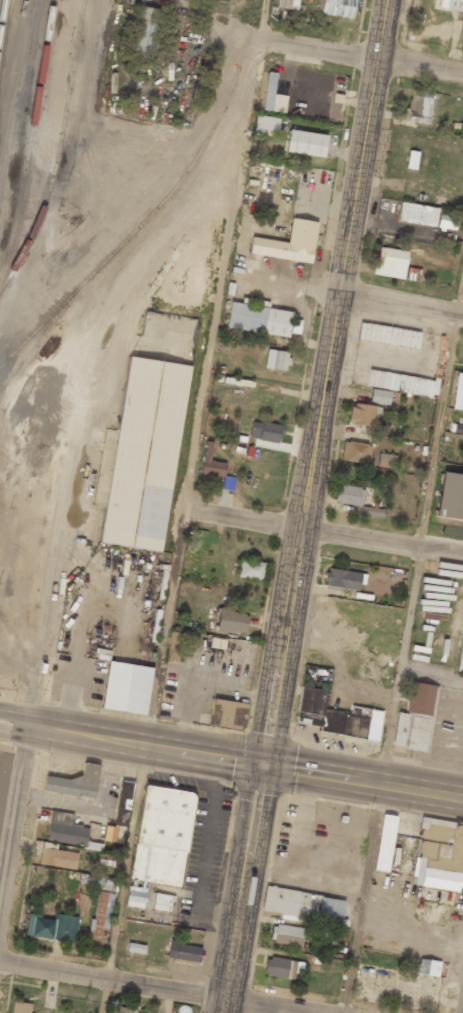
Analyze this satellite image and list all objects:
building: (285, 4)
building: (451, 4)
building: (337, 7)
railway: (2, 13)
building: (146, 34)
road: (362, 58)
building: (273, 96)
building: (420, 105)
building: (266, 124)
building: (306, 143)
railway: (59, 149)
building: (417, 214)
building: (446, 220)
railway: (136, 229)
building: (288, 243)
building: (390, 263)
road: (404, 304)
building: (259, 319)
building: (295, 326)
building: (388, 335)
building: (277, 359)
road: (208, 373)
building: (398, 382)
building: (458, 393)
building: (379, 396)
building: (363, 415)
road: (442, 419)
building: (265, 431)
building: (355, 452)
building: (145, 454)
building: (386, 460)
building: (211, 462)
building: (349, 495)
building: (450, 496)
road: (307, 506)
road: (324, 533)
building: (250, 569)
building: (344, 579)
building: (231, 621)
road: (400, 667)
building: (126, 688)
building: (228, 714)
road: (33, 715)
building: (334, 717)
building: (416, 719)
road: (4, 733)
road: (35, 736)
traffic signals: (261, 765)
road: (262, 765)
building: (74, 783)
building: (124, 804)
building: (66, 830)
building: (110, 833)
road: (15, 836)
building: (163, 836)
building: (385, 843)
building: (439, 856)
building: (58, 858)
road: (124, 879)
building: (135, 896)
road: (362, 898)
building: (162, 902)
building: (304, 906)
building: (102, 913)
building: (52, 927)
building: (286, 934)
building: (135, 948)
building: (183, 952)
building: (429, 967)
building: (282, 968)
road: (150, 988)
building: (20, 1007)
building: (120, 1009)

